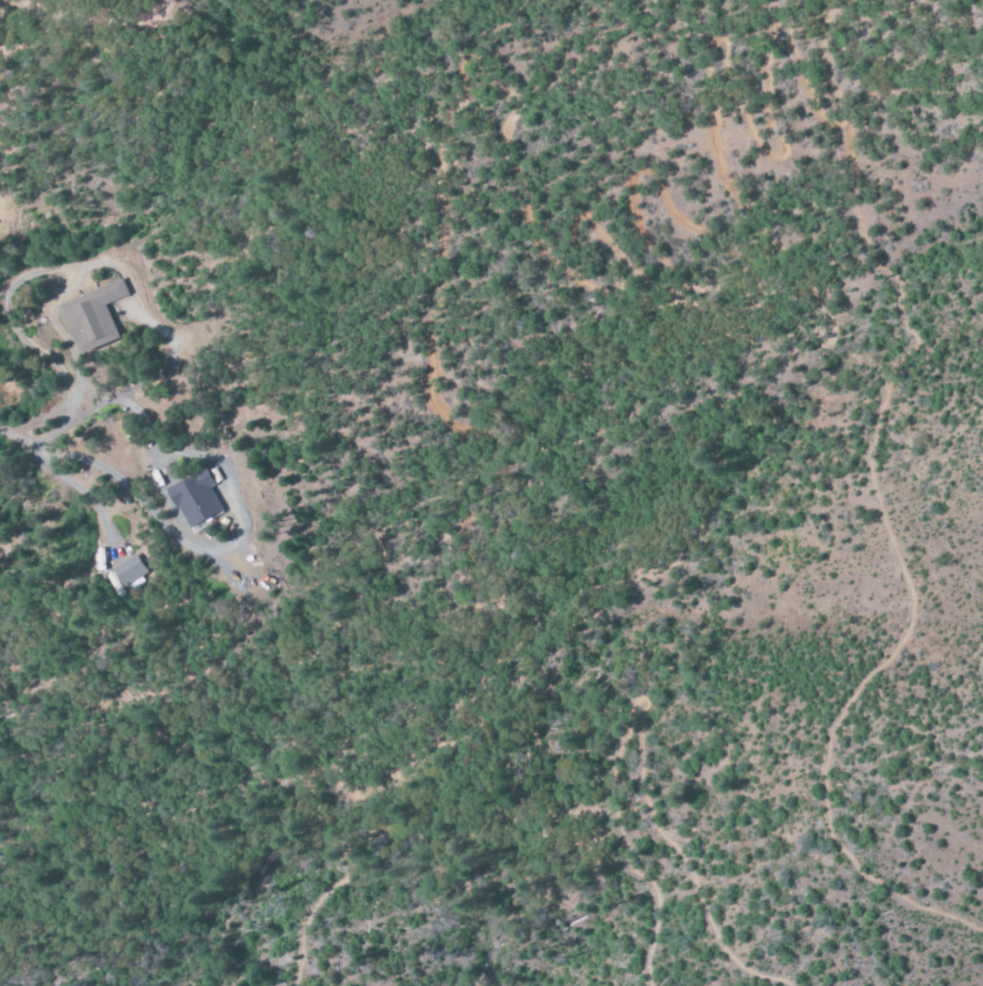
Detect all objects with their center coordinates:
road: (523, 218)
building: (90, 317)
building: (194, 499)
road: (885, 515)
building: (128, 571)
road: (640, 728)

